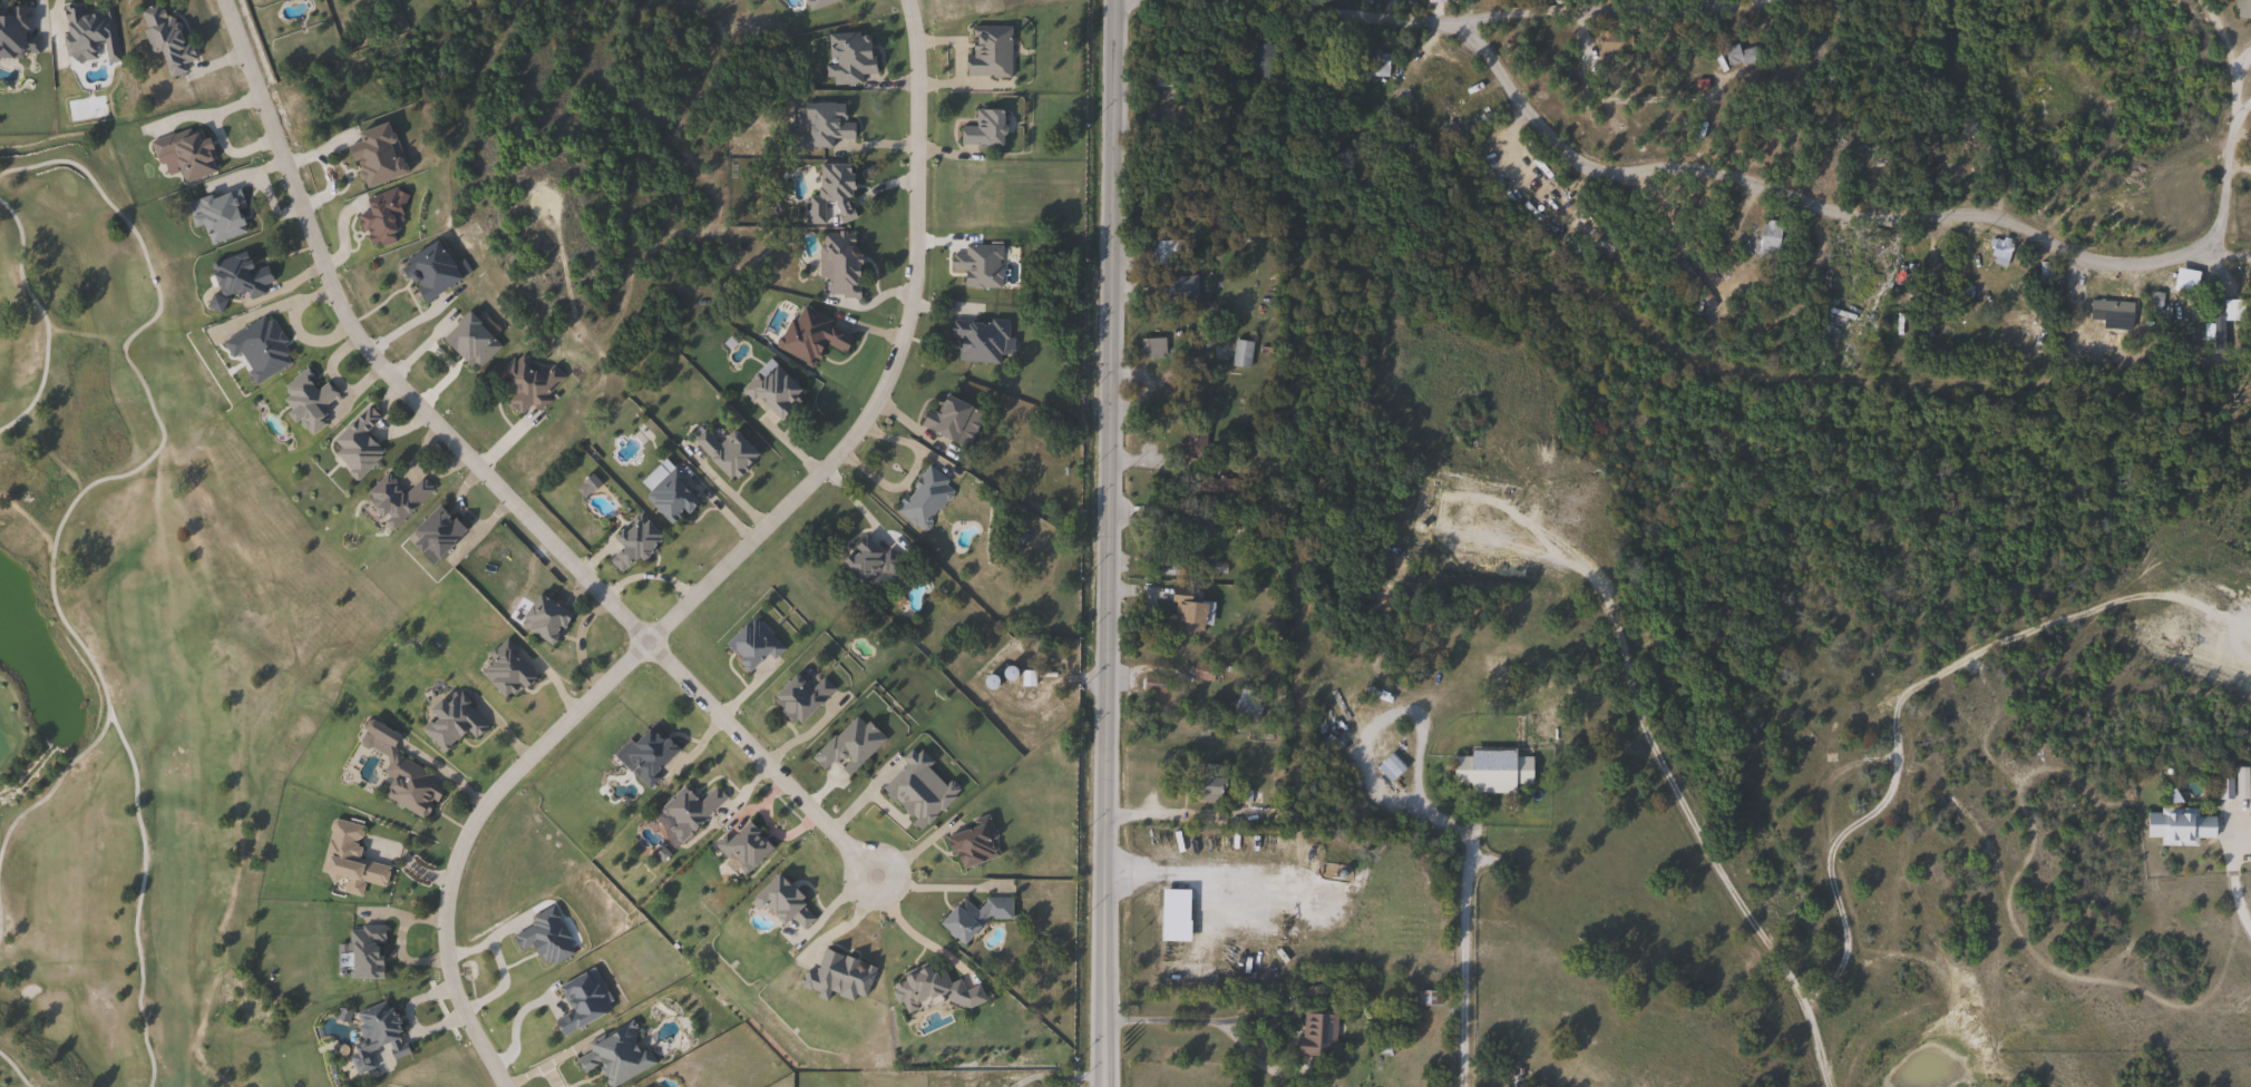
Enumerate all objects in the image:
building: (1434, 1)
building: (815, 2)
road: (1473, 4)
building: (2241, 8)
road: (2082, 27)
building: (85, 32)
building: (14, 33)
building: (163, 38)
building: (1610, 46)
building: (1255, 56)
building: (1738, 56)
building: (1375, 63)
building: (1157, 76)
building: (2036, 76)
building: (2033, 108)
road: (2234, 114)
road: (2242, 114)
building: (821, 124)
building: (980, 128)
building: (184, 151)
building: (372, 155)
building: (1816, 164)
road: (2241, 169)
building: (1881, 174)
building: (829, 194)
road: (1824, 194)
building: (216, 214)
building: (380, 217)
building: (1762, 241)
building: (1163, 252)
building: (836, 263)
building: (426, 271)
building: (234, 278)
building: (1176, 286)
building: (2073, 286)
building: (1962, 296)
building: (2108, 313)
road: (43, 316)
building: (808, 334)
building: (464, 339)
building: (976, 340)
building: (256, 349)
building: (1150, 349)
road: (387, 353)
building: (1238, 354)
building: (523, 383)
building: (769, 390)
building: (304, 401)
building: (945, 419)
building: (354, 443)
building: (1191, 443)
building: (722, 452)
building: (667, 497)
building: (392, 498)
building: (922, 499)
building: (1169, 526)
building: (431, 535)
building: (628, 542)
road: (1105, 542)
road: (52, 546)
building: (866, 559)
road: (717, 567)
building: (1186, 613)
building: (542, 619)
building: (749, 644)
building: (504, 670)
building: (1199, 672)
building: (1151, 684)
building: (797, 697)
building: (1244, 705)
building: (449, 721)
road: (760, 745)
building: (845, 745)
building: (643, 755)
road: (1863, 766)
building: (1388, 770)
building: (1488, 770)
building: (1208, 782)
road: (56, 783)
building: (408, 786)
building: (2222, 789)
building: (1247, 795)
building: (685, 811)
building: (2176, 826)
building: (969, 843)
building: (741, 846)
building: (350, 863)
road: (908, 878)
road: (2231, 883)
building: (780, 903)
building: (971, 917)
road: (1459, 936)
building: (542, 937)
road: (491, 938)
building: (362, 952)
road: (500, 985)
building: (577, 1001)
road: (1269, 1016)
road: (514, 1026)
road: (1840, 1031)
building: (1315, 1035)
building: (373, 1036)
building: (613, 1056)
road: (13, 1070)

